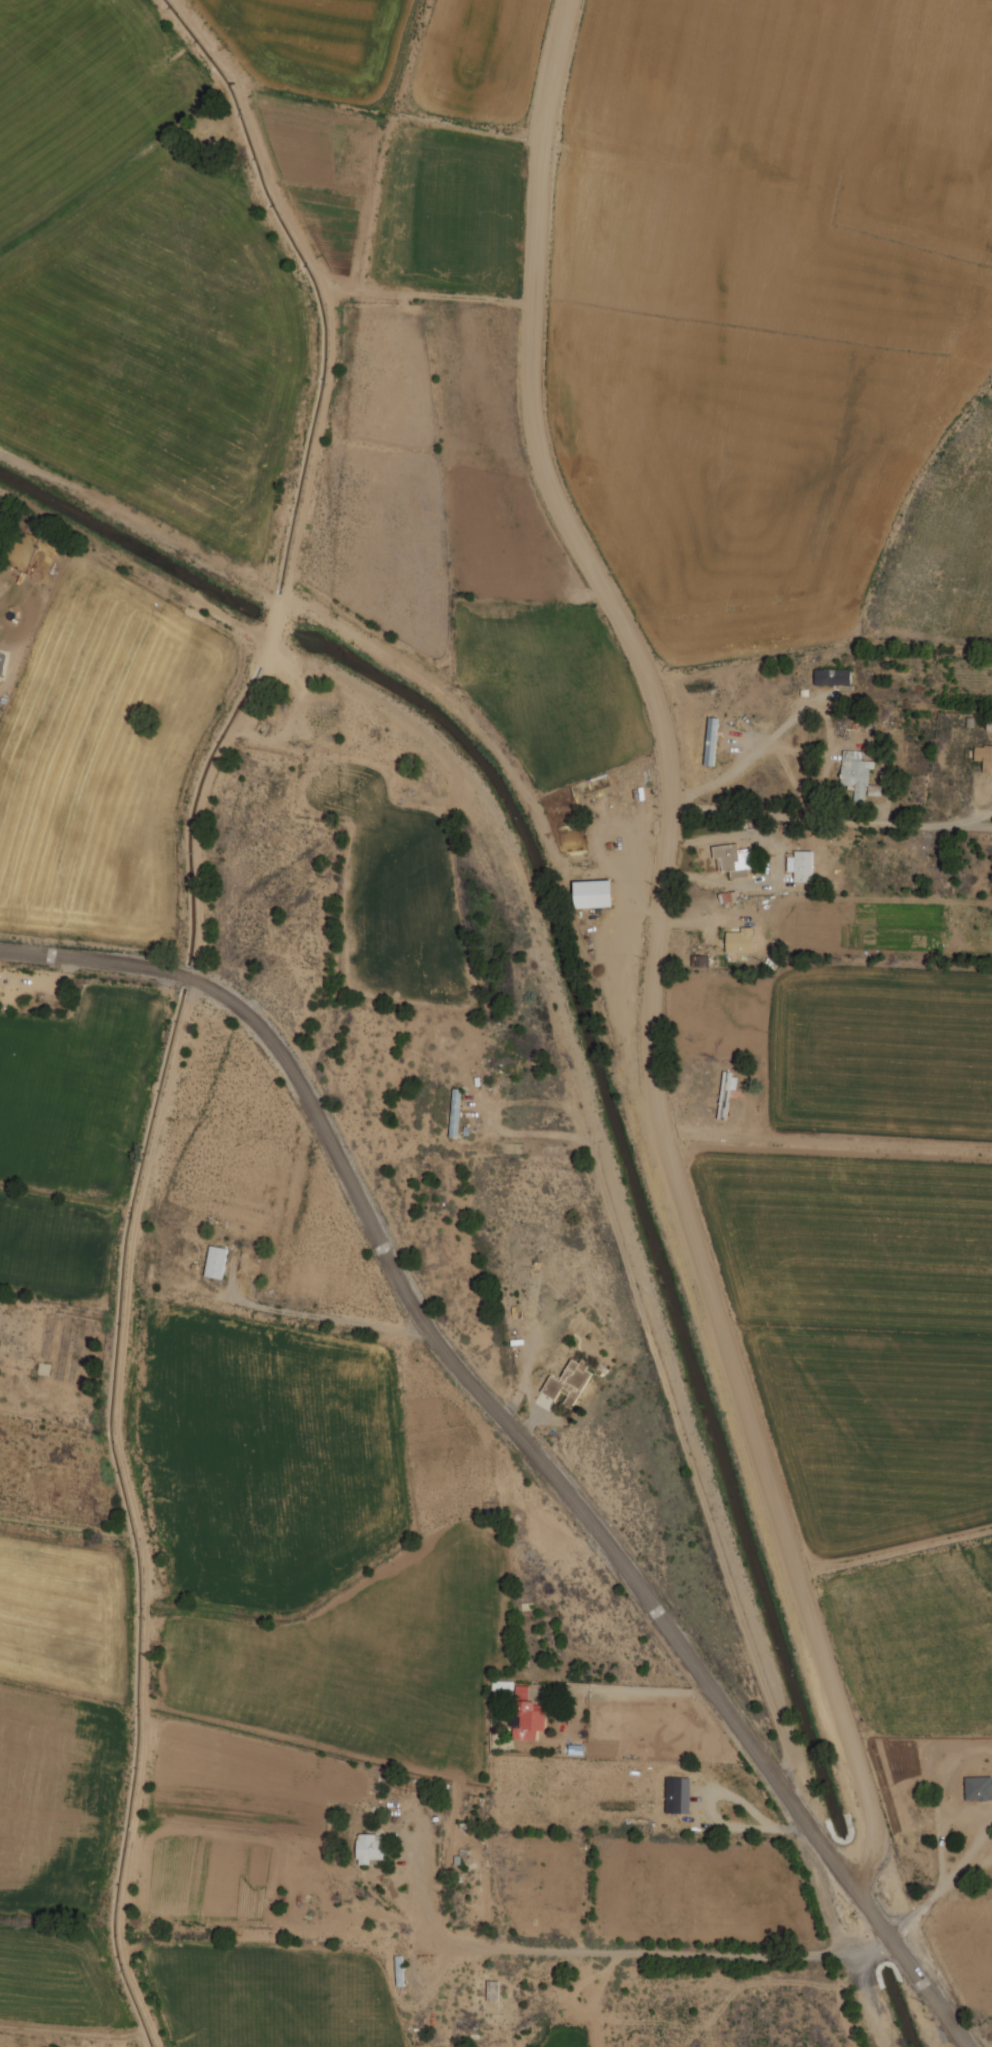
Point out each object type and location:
road: (574, 0)
road: (310, 479)
building: (2, 663)
building: (832, 677)
building: (710, 741)
building: (855, 773)
building: (733, 859)
building: (800, 865)
building: (592, 893)
building: (739, 940)
road: (41, 955)
road: (650, 989)
building: (726, 1090)
building: (455, 1112)
building: (215, 1261)
building: (568, 1382)
road: (552, 1469)
building: (502, 1685)
building: (527, 1716)
building: (978, 1788)
building: (677, 1795)
building: (369, 1849)
road: (599, 1954)

